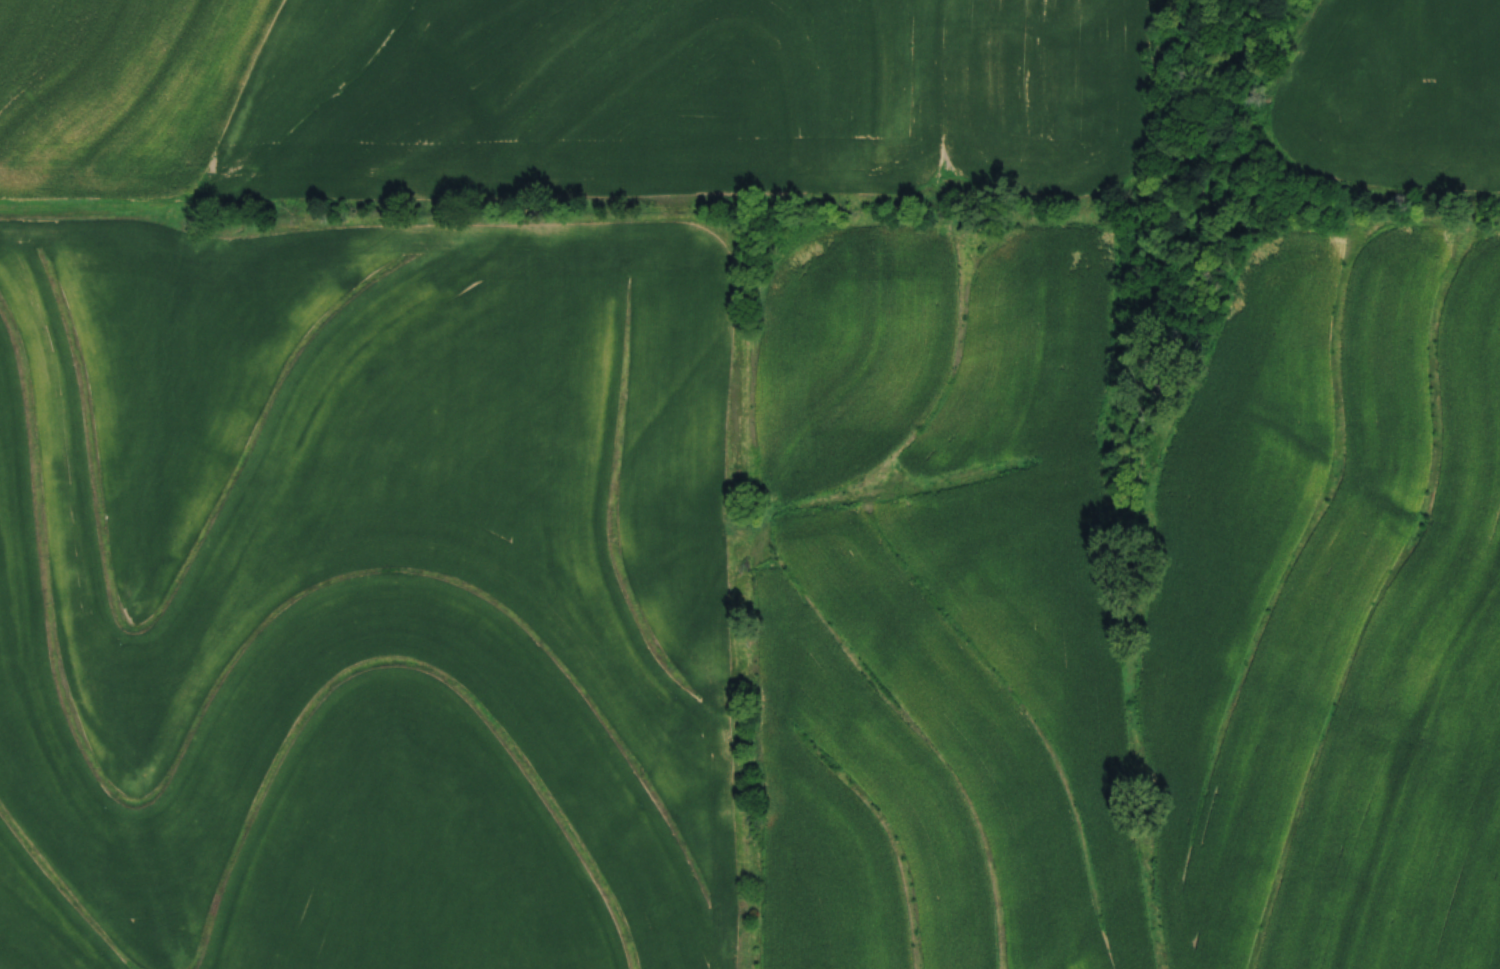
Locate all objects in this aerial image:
crop: (1395, 96)
crop: (573, 106)
crop: (372, 591)
crop: (932, 598)
crop: (1332, 610)

